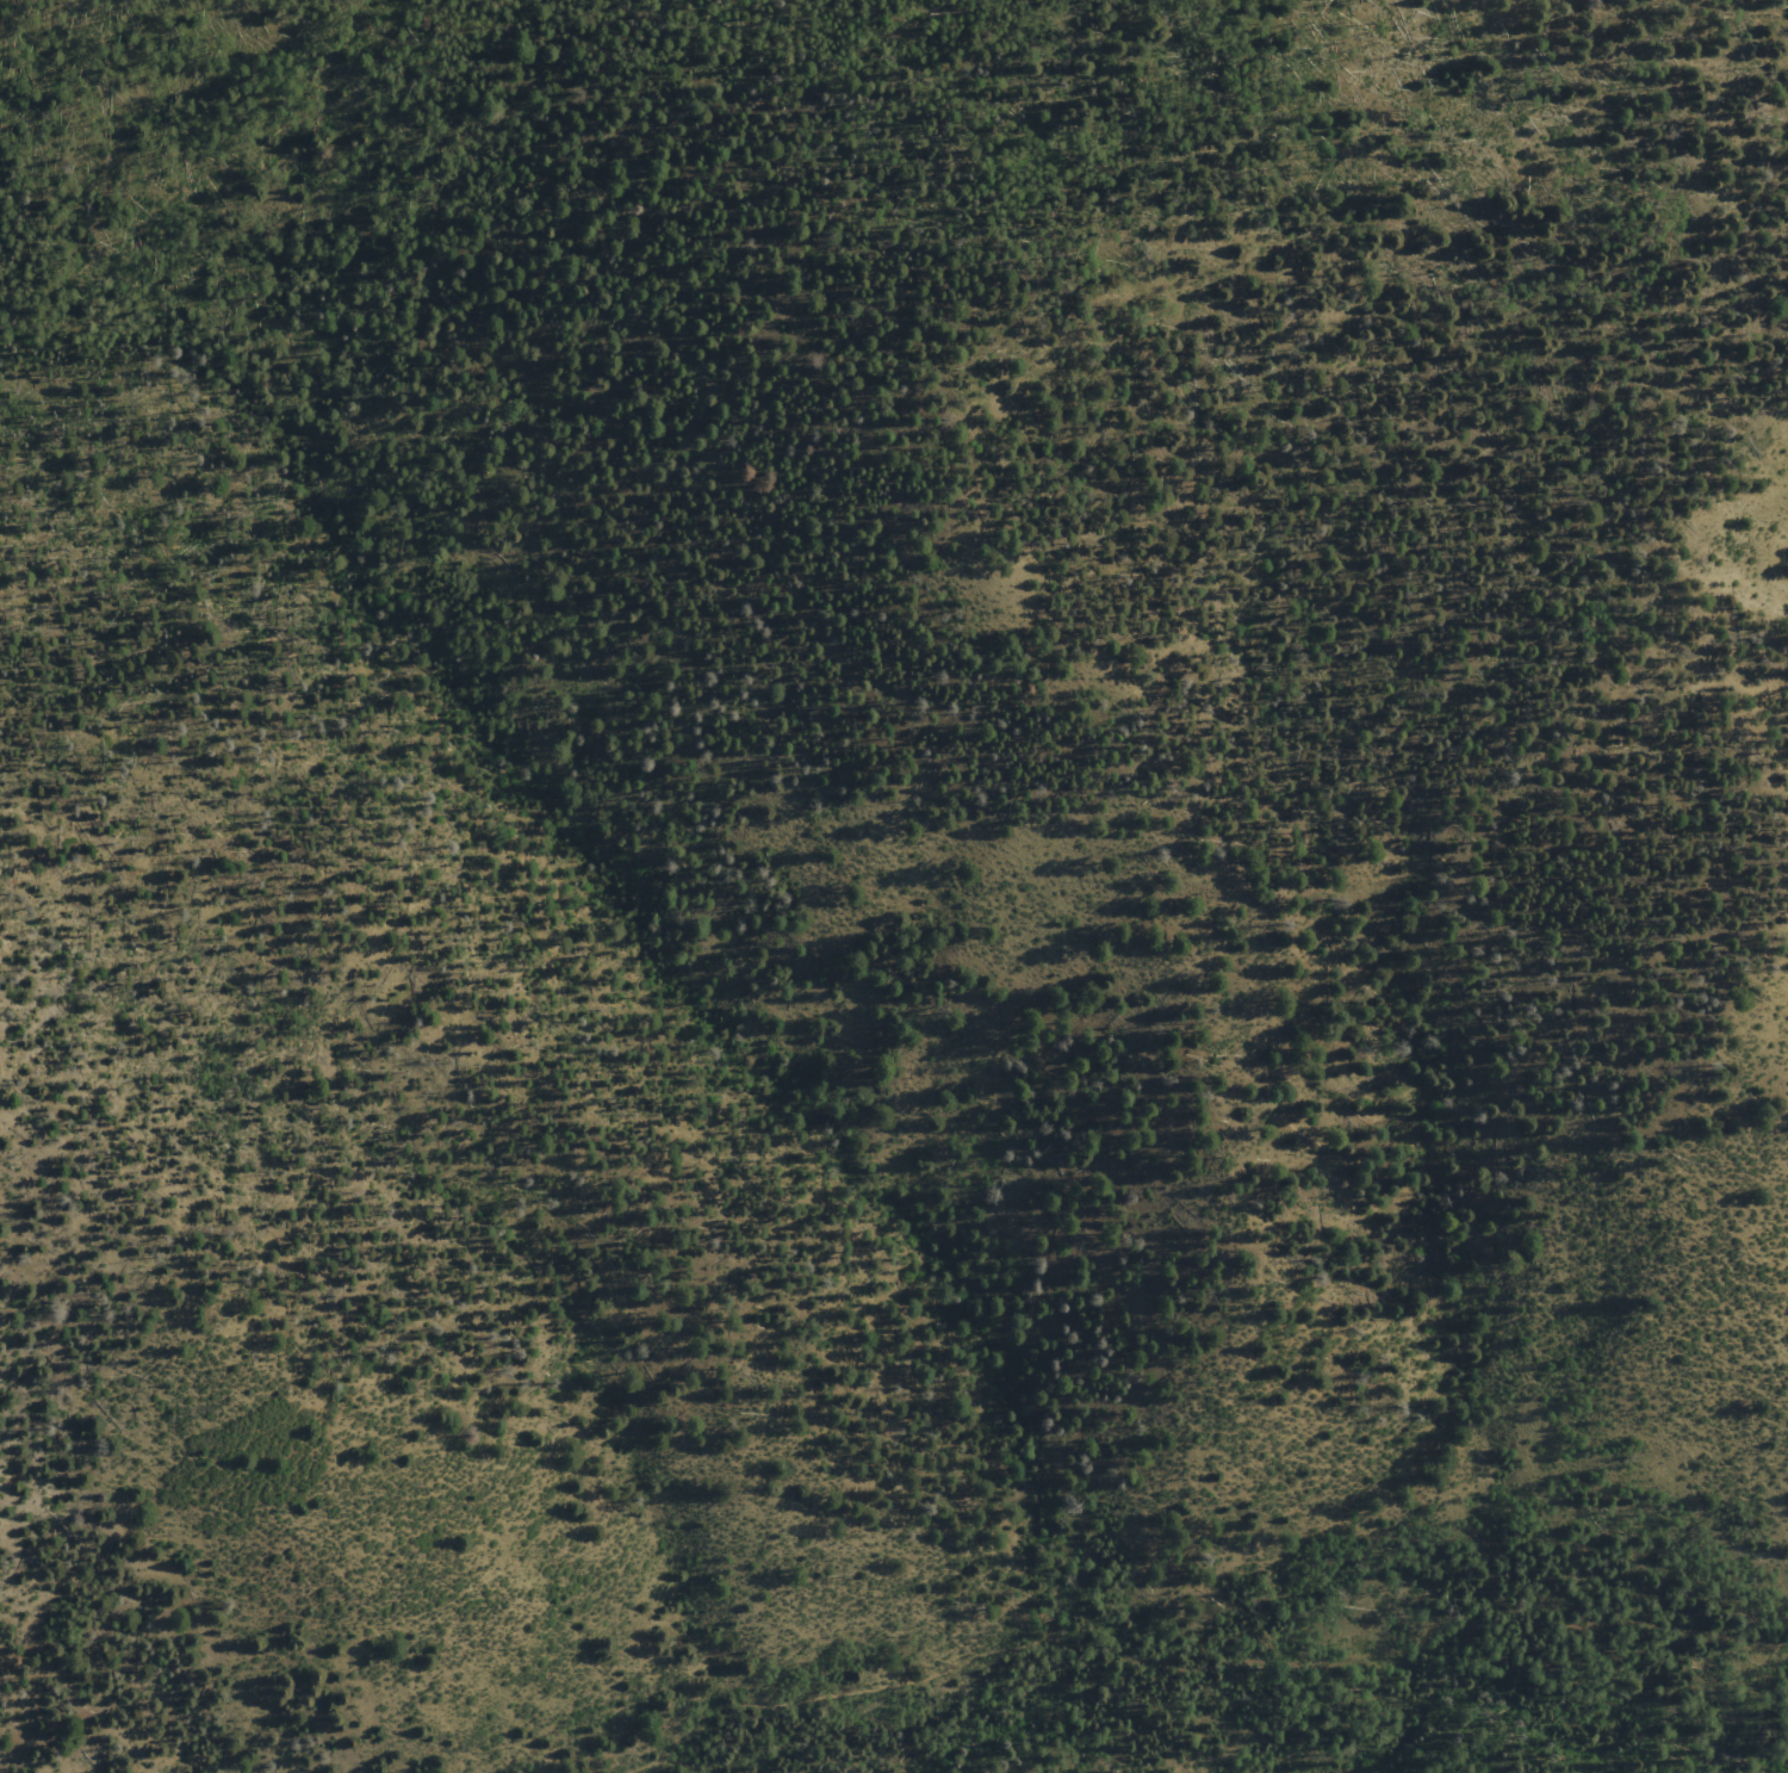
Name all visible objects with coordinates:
road: (1695, 1756)

